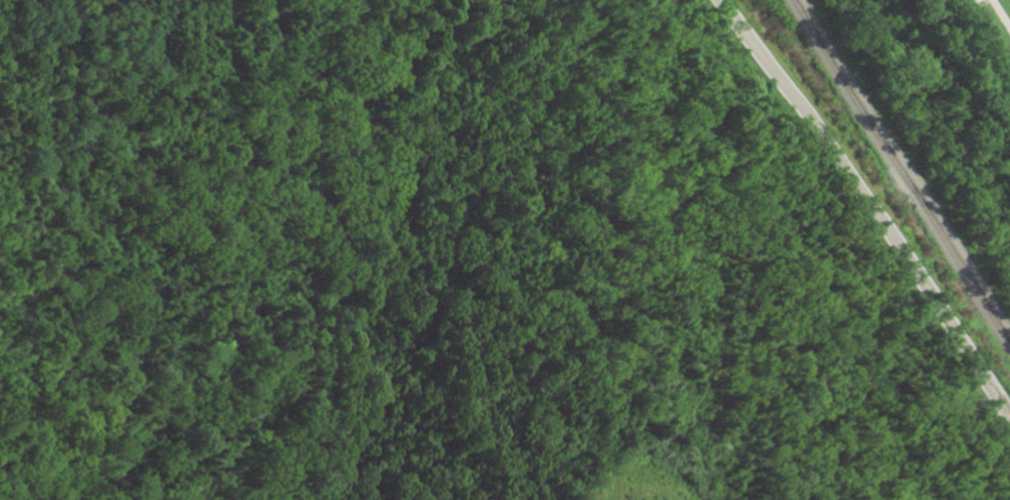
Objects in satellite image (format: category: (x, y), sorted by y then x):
road: (1000, 14)
railway: (899, 173)
road: (868, 208)

